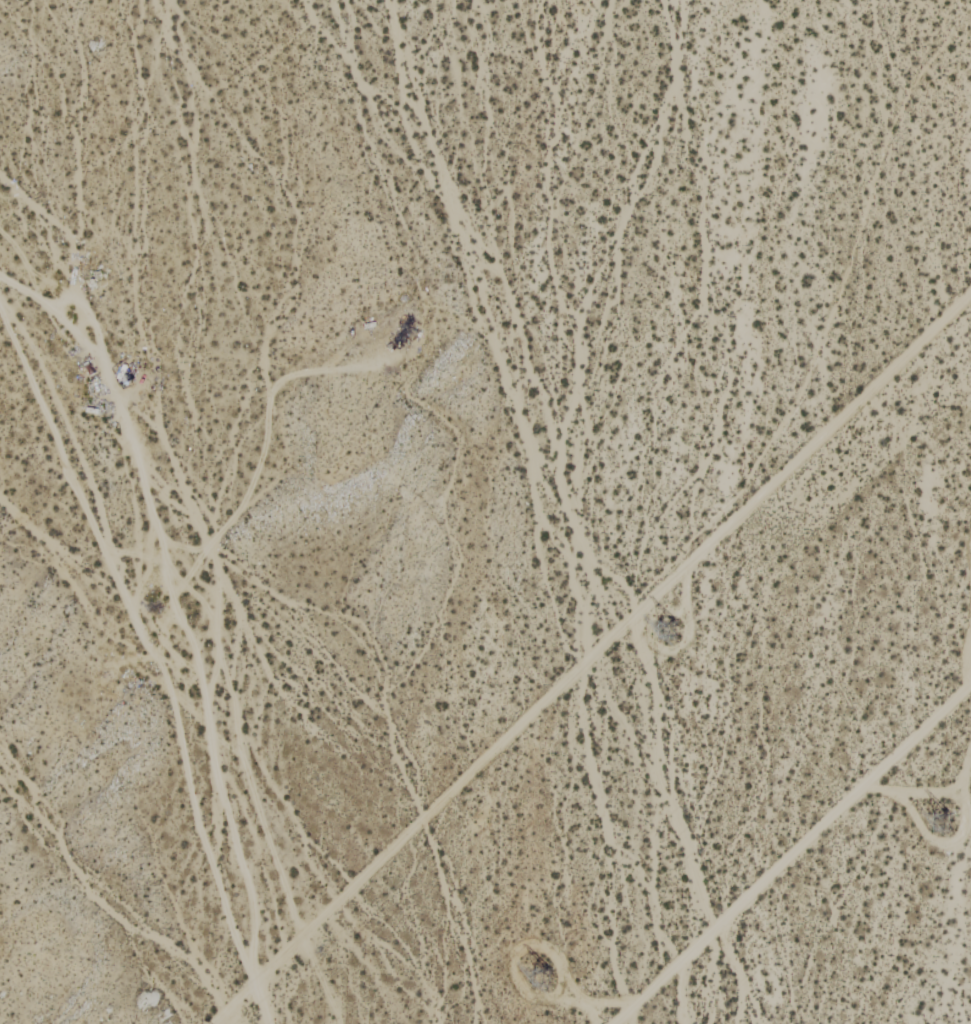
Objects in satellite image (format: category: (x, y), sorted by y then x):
power tower: (679, 629)
power tower: (943, 824)
road: (792, 853)
power tower: (545, 985)

